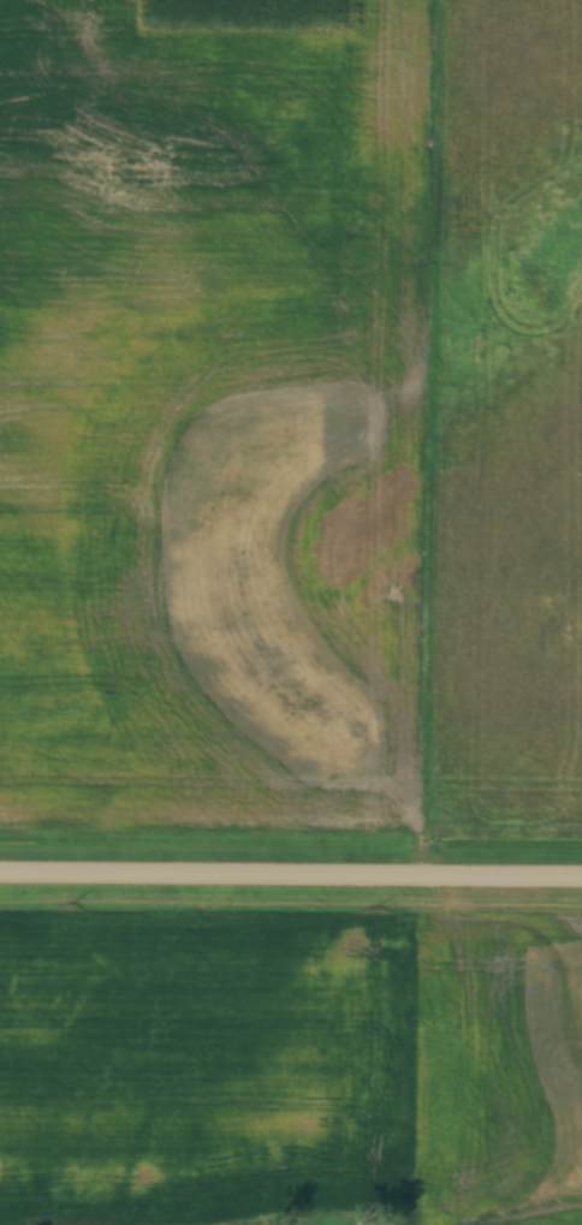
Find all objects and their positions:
road: (291, 869)

